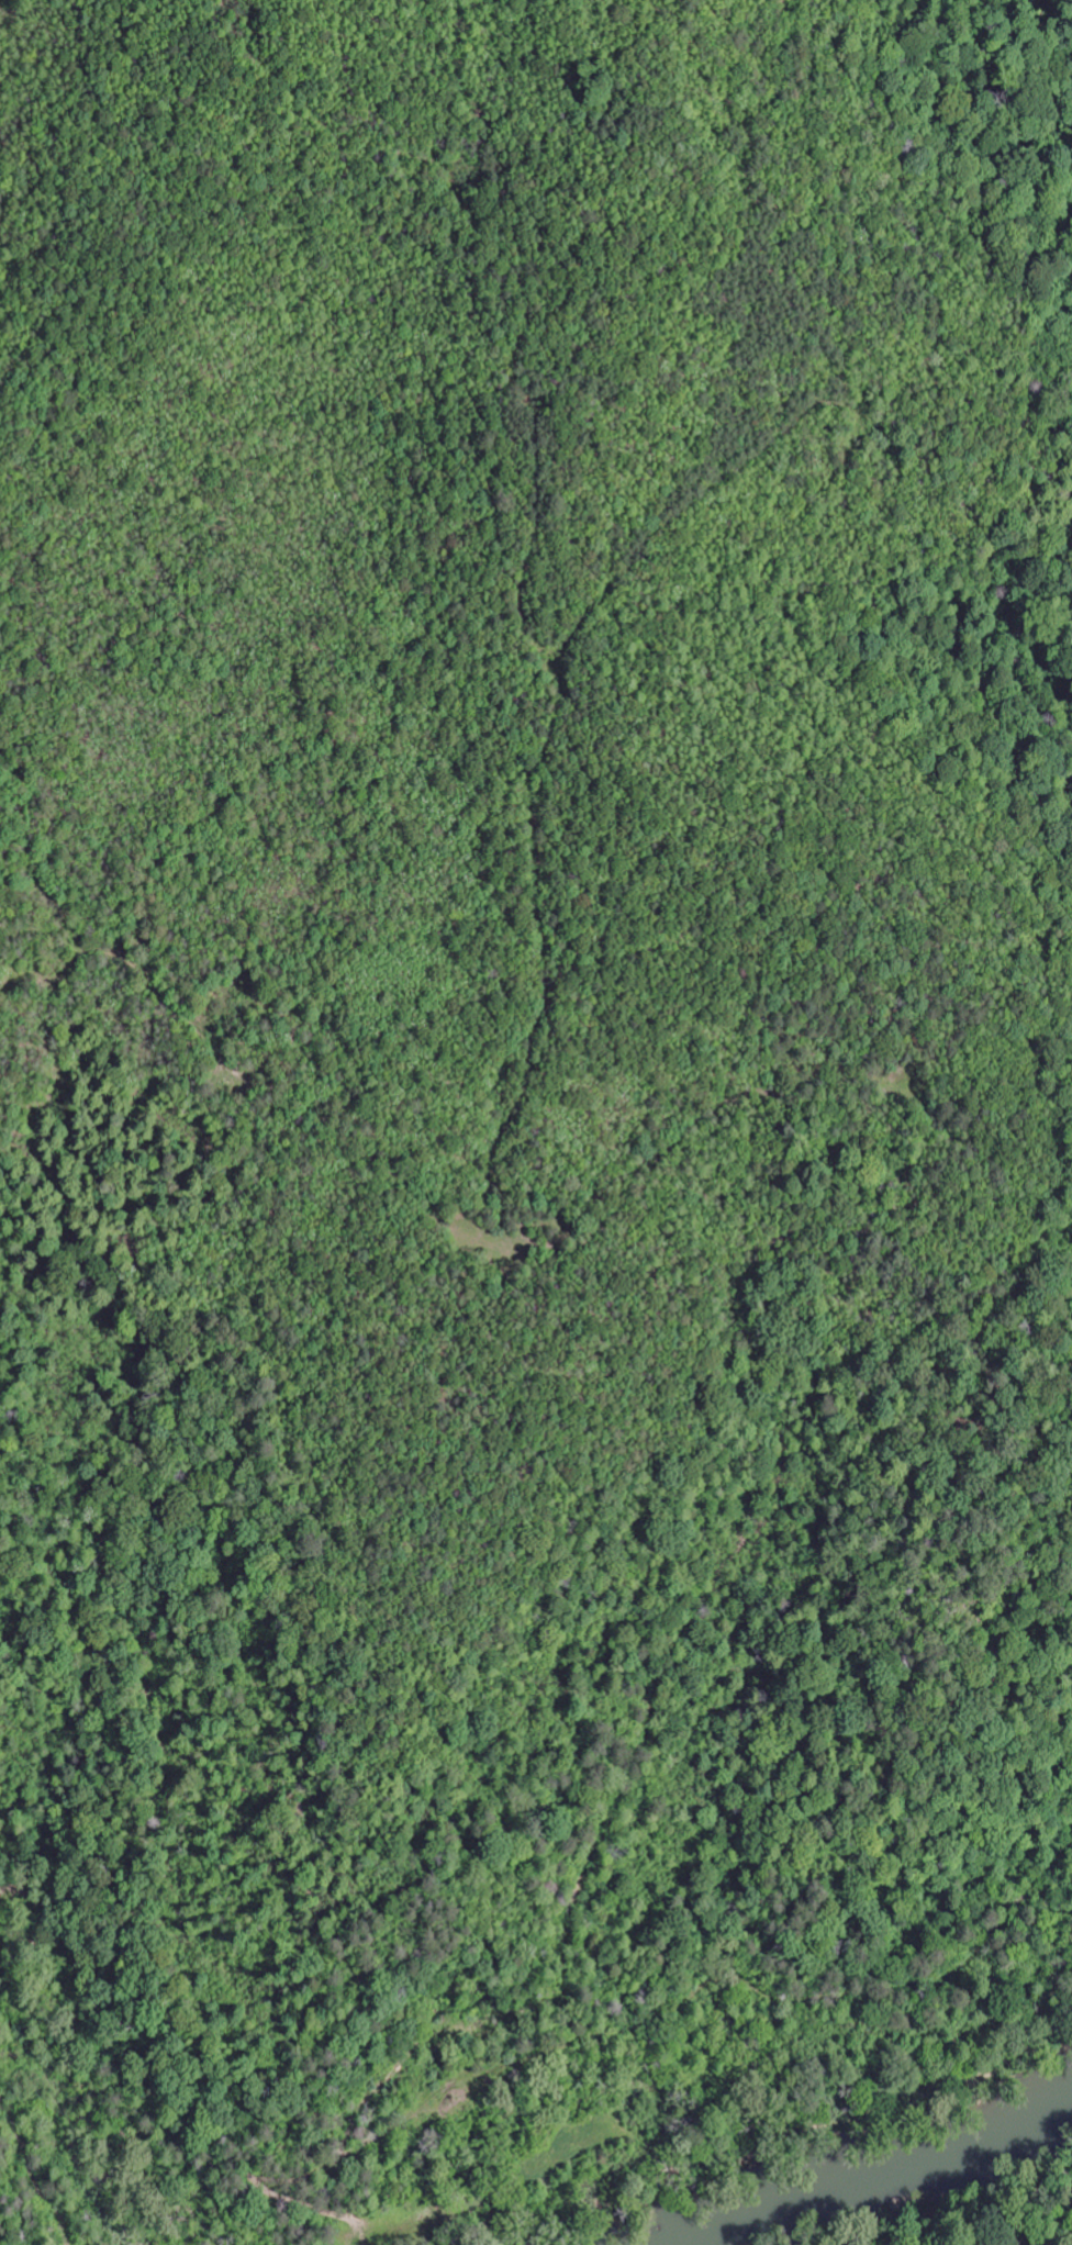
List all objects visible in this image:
river: (878, 2173)

